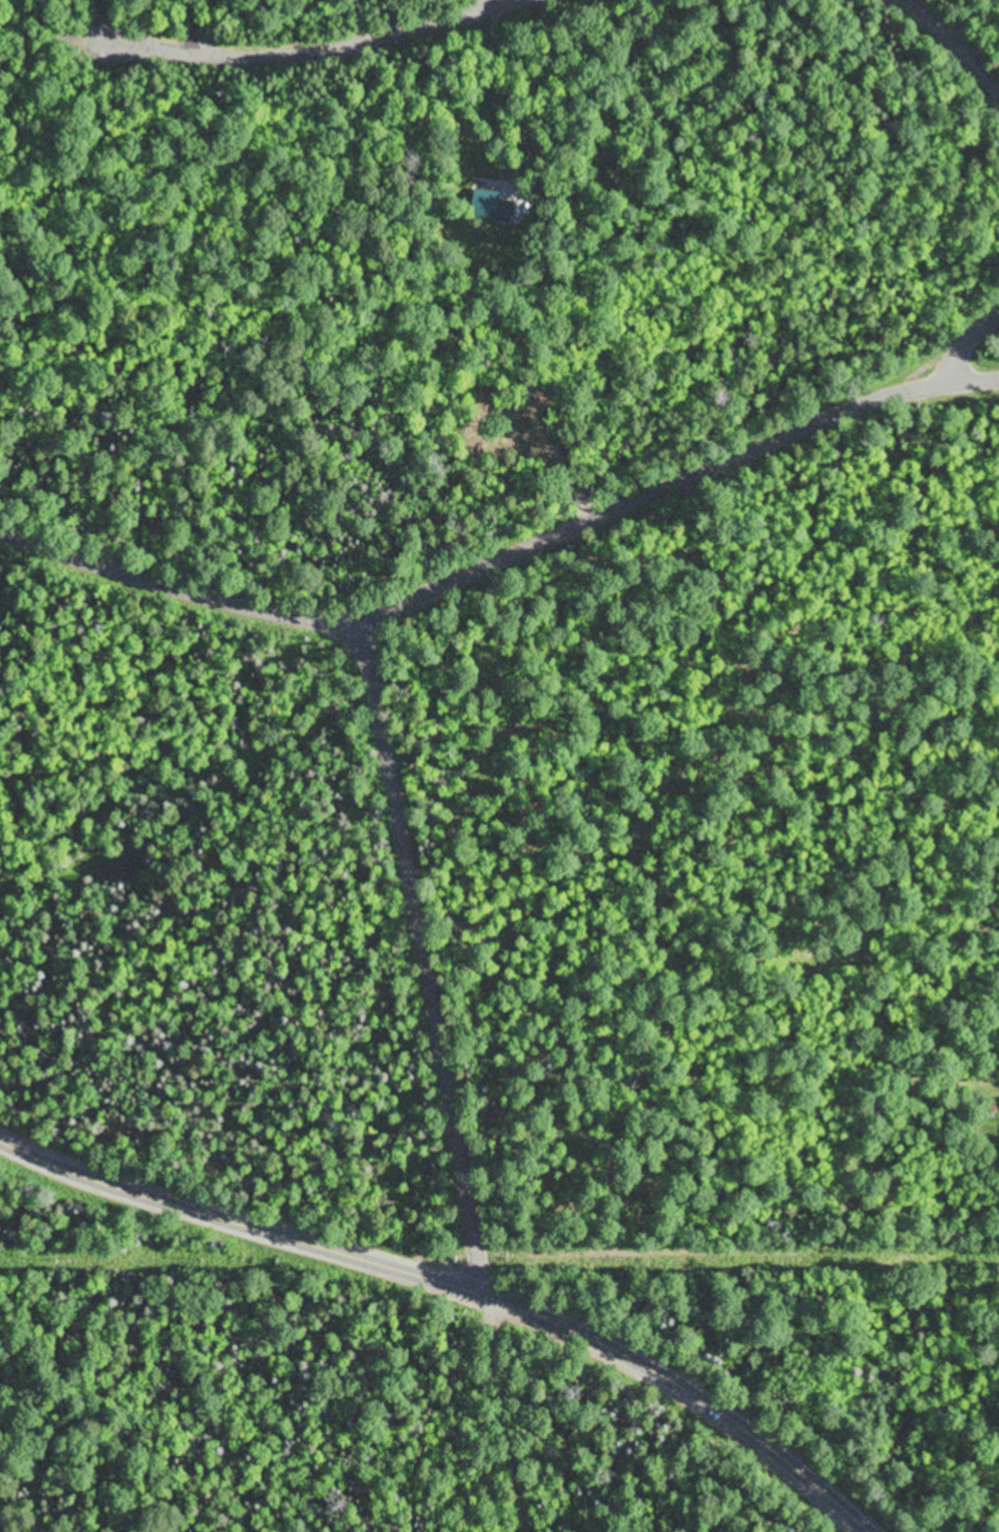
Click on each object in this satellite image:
road: (964, 37)
road: (302, 44)
road: (984, 331)
road: (516, 549)
road: (457, 1069)
road: (740, 1246)
road: (467, 1278)

